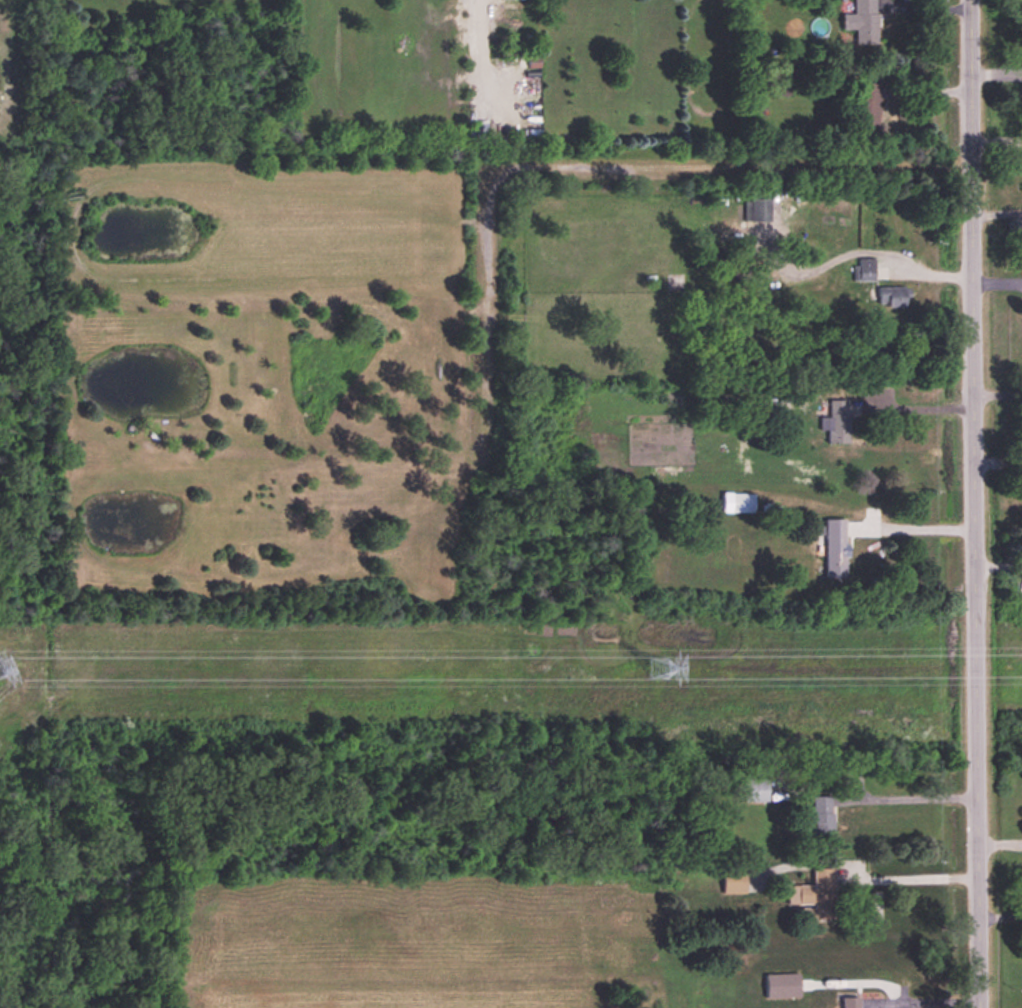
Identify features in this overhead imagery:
building: (862, 22)
building: (868, 106)
road: (738, 165)
building: (758, 210)
building: (865, 270)
building: (893, 296)
road: (921, 407)
building: (837, 422)
building: (738, 504)
road: (974, 504)
road: (911, 529)
building: (836, 549)
power tower: (660, 669)
building: (756, 791)
road: (912, 793)
building: (822, 817)
road: (910, 874)
building: (734, 883)
building: (814, 897)
building: (783, 986)
building: (850, 1002)

